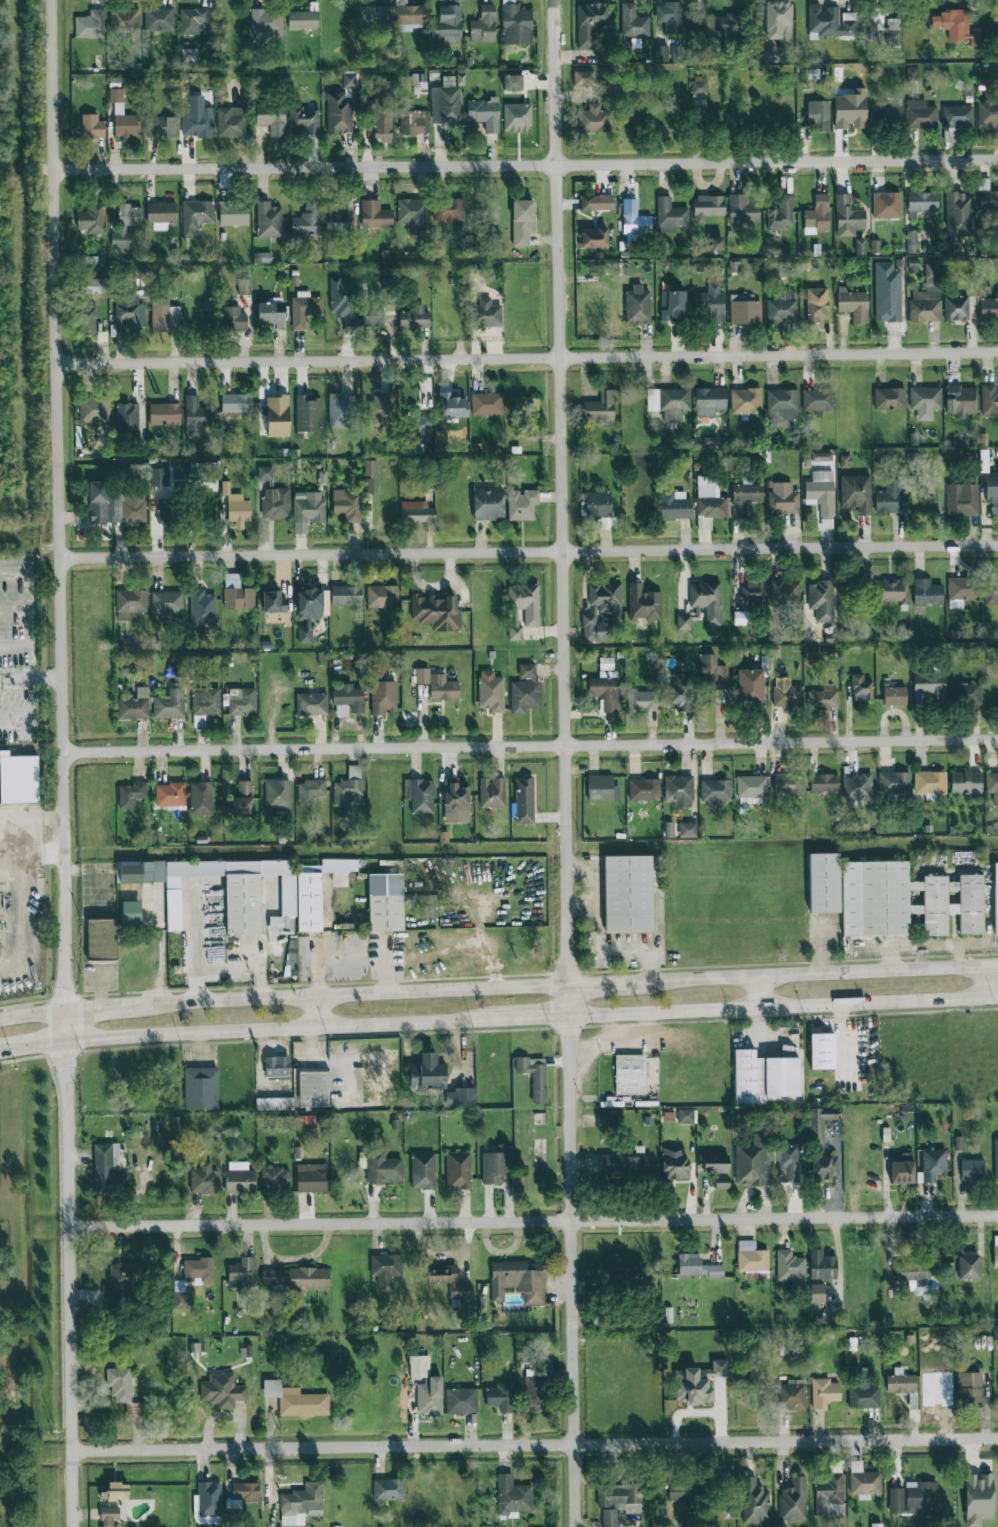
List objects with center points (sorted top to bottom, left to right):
building: (409, 14)
building: (374, 15)
building: (669, 17)
building: (158, 18)
building: (302, 19)
building: (192, 20)
building: (125, 21)
building: (830, 21)
building: (633, 22)
building: (90, 24)
building: (266, 24)
building: (447, 24)
building: (483, 25)
building: (516, 25)
building: (591, 27)
building: (725, 27)
building: (776, 27)
building: (958, 27)
building: (884, 28)
building: (912, 73)
building: (584, 78)
building: (349, 80)
building: (512, 82)
building: (419, 83)
building: (698, 94)
building: (445, 103)
building: (850, 110)
building: (484, 114)
building: (885, 114)
building: (920, 114)
building: (121, 115)
building: (987, 115)
building: (819, 116)
building: (958, 116)
building: (517, 117)
building: (196, 118)
building: (272, 118)
building: (304, 119)
building: (593, 119)
building: (230, 121)
building: (414, 122)
building: (382, 125)
building: (92, 126)
building: (160, 126)
building: (997, 135)
road: (526, 163)
building: (997, 192)
building: (987, 197)
building: (922, 201)
building: (596, 202)
building: (887, 205)
building: (707, 207)
building: (742, 209)
building: (449, 210)
building: (233, 213)
building: (780, 213)
building: (161, 214)
building: (374, 214)
building: (413, 214)
building: (196, 215)
building: (670, 215)
building: (817, 215)
building: (957, 216)
building: (848, 217)
building: (633, 218)
building: (92, 219)
building: (308, 219)
building: (268, 220)
building: (337, 221)
building: (522, 222)
building: (126, 225)
building: (595, 237)
building: (911, 241)
building: (716, 243)
building: (94, 283)
building: (244, 286)
building: (887, 292)
building: (926, 298)
building: (997, 298)
building: (344, 299)
building: (710, 304)
building: (817, 304)
building: (853, 304)
building: (637, 305)
building: (672, 306)
building: (304, 308)
building: (781, 308)
building: (956, 308)
building: (988, 308)
building: (744, 310)
building: (129, 312)
building: (488, 313)
building: (373, 314)
building: (165, 315)
building: (272, 315)
building: (89, 317)
building: (413, 318)
building: (234, 319)
road: (528, 358)
building: (889, 398)
building: (989, 399)
building: (745, 400)
building: (818, 400)
building: (961, 400)
building: (709, 401)
building: (925, 401)
building: (669, 402)
building: (236, 403)
building: (487, 404)
building: (997, 405)
building: (451, 406)
building: (526, 407)
building: (781, 407)
building: (383, 409)
building: (599, 409)
building: (95, 410)
building: (340, 411)
building: (308, 413)
building: (165, 414)
building: (198, 416)
building: (277, 416)
building: (128, 418)
building: (417, 425)
building: (710, 442)
building: (370, 468)
building: (265, 473)
building: (159, 477)
building: (997, 484)
building: (992, 490)
building: (821, 492)
building: (856, 493)
building: (745, 497)
building: (710, 498)
building: (890, 498)
building: (783, 499)
building: (962, 499)
building: (100, 501)
building: (275, 503)
building: (347, 504)
building: (488, 504)
building: (522, 504)
building: (673, 505)
building: (234, 506)
building: (129, 507)
building: (308, 507)
building: (599, 507)
building: (167, 511)
building: (417, 512)
road: (529, 552)
building: (997, 582)
building: (891, 590)
building: (784, 591)
building: (960, 591)
building: (753, 592)
building: (237, 593)
building: (927, 593)
building: (990, 593)
building: (345, 595)
building: (381, 596)
building: (821, 600)
building: (273, 602)
building: (525, 602)
building: (167, 603)
building: (643, 603)
building: (130, 604)
building: (701, 604)
building: (202, 608)
road: (26, 610)
building: (436, 611)
building: (600, 611)
building: (308, 612)
building: (740, 617)
parking lot: (18, 646)
building: (812, 652)
building: (711, 673)
road: (31, 677)
building: (437, 684)
building: (605, 685)
building: (750, 685)
building: (930, 686)
building: (861, 688)
building: (674, 689)
building: (524, 690)
building: (491, 691)
building: (787, 693)
building: (964, 693)
building: (894, 696)
building: (383, 697)
building: (823, 697)
building: (242, 700)
building: (348, 700)
building: (205, 701)
building: (642, 701)
building: (169, 704)
building: (312, 704)
building: (134, 705)
road: (14, 718)
road: (531, 745)
road: (65, 763)
road: (569, 763)
building: (17, 780)
building: (895, 782)
building: (929, 782)
building: (966, 782)
building: (788, 783)
building: (824, 783)
building: (992, 785)
building: (857, 786)
building: (347, 787)
building: (602, 788)
building: (752, 788)
building: (644, 789)
building: (309, 791)
building: (679, 791)
building: (492, 792)
building: (715, 792)
building: (131, 794)
building: (170, 794)
building: (277, 794)
building: (419, 795)
building: (997, 796)
building: (200, 798)
building: (242, 798)
building: (524, 800)
building: (455, 802)
road: (21, 814)
road: (54, 817)
building: (687, 828)
road: (45, 853)
building: (339, 864)
building: (823, 883)
building: (628, 893)
building: (995, 896)
building: (243, 899)
building: (905, 900)
building: (310, 901)
road: (27, 903)
building: (130, 912)
building: (386, 912)
building: (101, 939)
building: (291, 960)
road: (818, 973)
road: (984, 983)
road: (605, 985)
road: (762, 992)
road: (358, 995)
road: (106, 1006)
road: (784, 1008)
road: (33, 1013)
road: (315, 1013)
road: (526, 1020)
road: (273, 1030)
road: (33, 1045)
building: (823, 1050)
building: (277, 1067)
building: (427, 1073)
building: (629, 1074)
building: (764, 1076)
building: (534, 1078)
building: (201, 1088)
building: (313, 1088)
building: (460, 1098)
building: (274, 1104)
building: (685, 1116)
building: (607, 1119)
building: (819, 1124)
building: (997, 1140)
building: (753, 1161)
building: (789, 1162)
building: (674, 1163)
building: (714, 1163)
building: (933, 1164)
building: (496, 1165)
building: (823, 1167)
building: (383, 1169)
building: (902, 1169)
building: (109, 1170)
building: (423, 1170)
building: (458, 1170)
building: (972, 1170)
building: (239, 1177)
building: (203, 1178)
building: (311, 1178)
building: (276, 1179)
building: (722, 1181)
road: (534, 1224)
building: (997, 1243)
building: (751, 1257)
building: (617, 1263)
building: (822, 1265)
building: (968, 1265)
building: (696, 1266)
building: (790, 1267)
building: (384, 1268)
building: (242, 1273)
building: (914, 1276)
building: (191, 1278)
building: (295, 1279)
building: (518, 1280)
building: (449, 1281)
building: (121, 1285)
building: (817, 1293)
building: (697, 1382)
building: (900, 1382)
building: (426, 1387)
building: (969, 1388)
building: (222, 1390)
building: (123, 1391)
building: (824, 1392)
building: (535, 1393)
building: (792, 1395)
building: (863, 1395)
building: (501, 1397)
building: (296, 1400)
building: (460, 1401)
road: (535, 1442)
building: (863, 1481)
building: (388, 1489)
building: (115, 1491)
building: (680, 1492)
building: (243, 1494)
building: (829, 1495)
building: (513, 1496)
building: (914, 1498)
building: (978, 1498)
building: (754, 1501)
building: (793, 1501)
building: (617, 1502)
building: (207, 1503)
building: (301, 1504)
building: (109, 1517)

